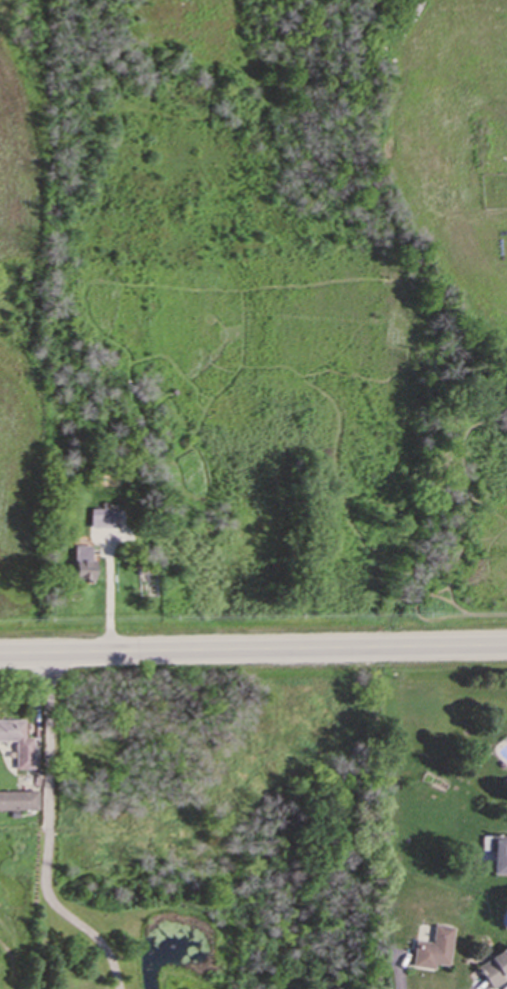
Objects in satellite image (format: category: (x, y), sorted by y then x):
crop: (24, 309)
building: (102, 516)
building: (82, 562)
road: (109, 587)
road: (253, 649)
building: (18, 742)
building: (18, 799)
road: (46, 835)
building: (498, 854)
building: (431, 948)
building: (494, 967)
road: (506, 988)

